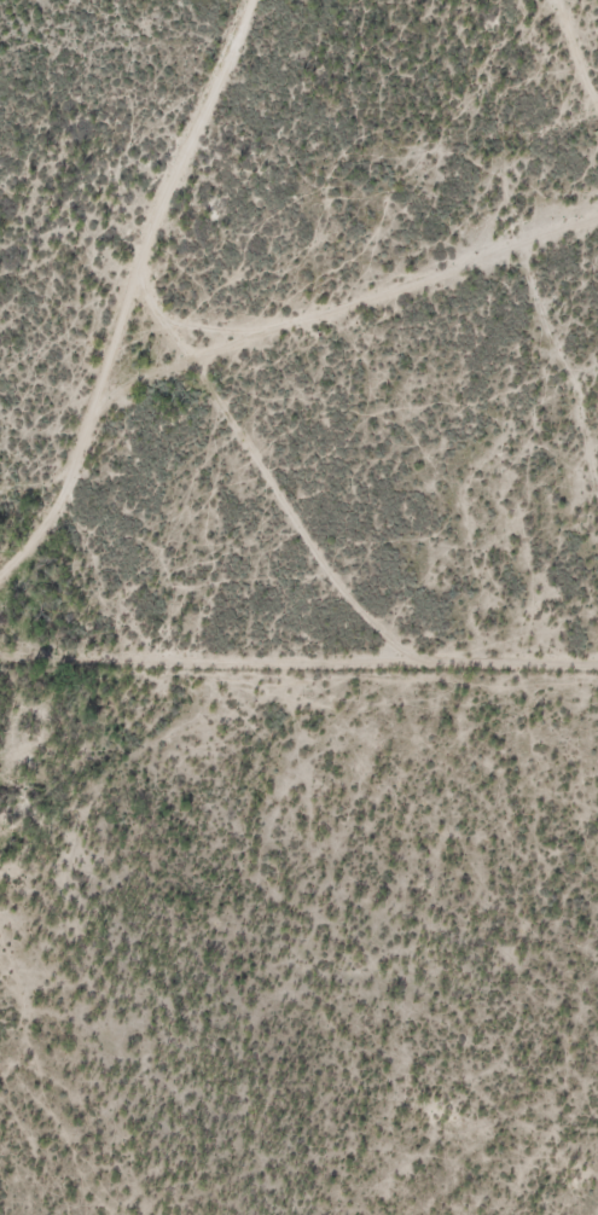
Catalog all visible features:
road: (173, 203)
road: (249, 341)

